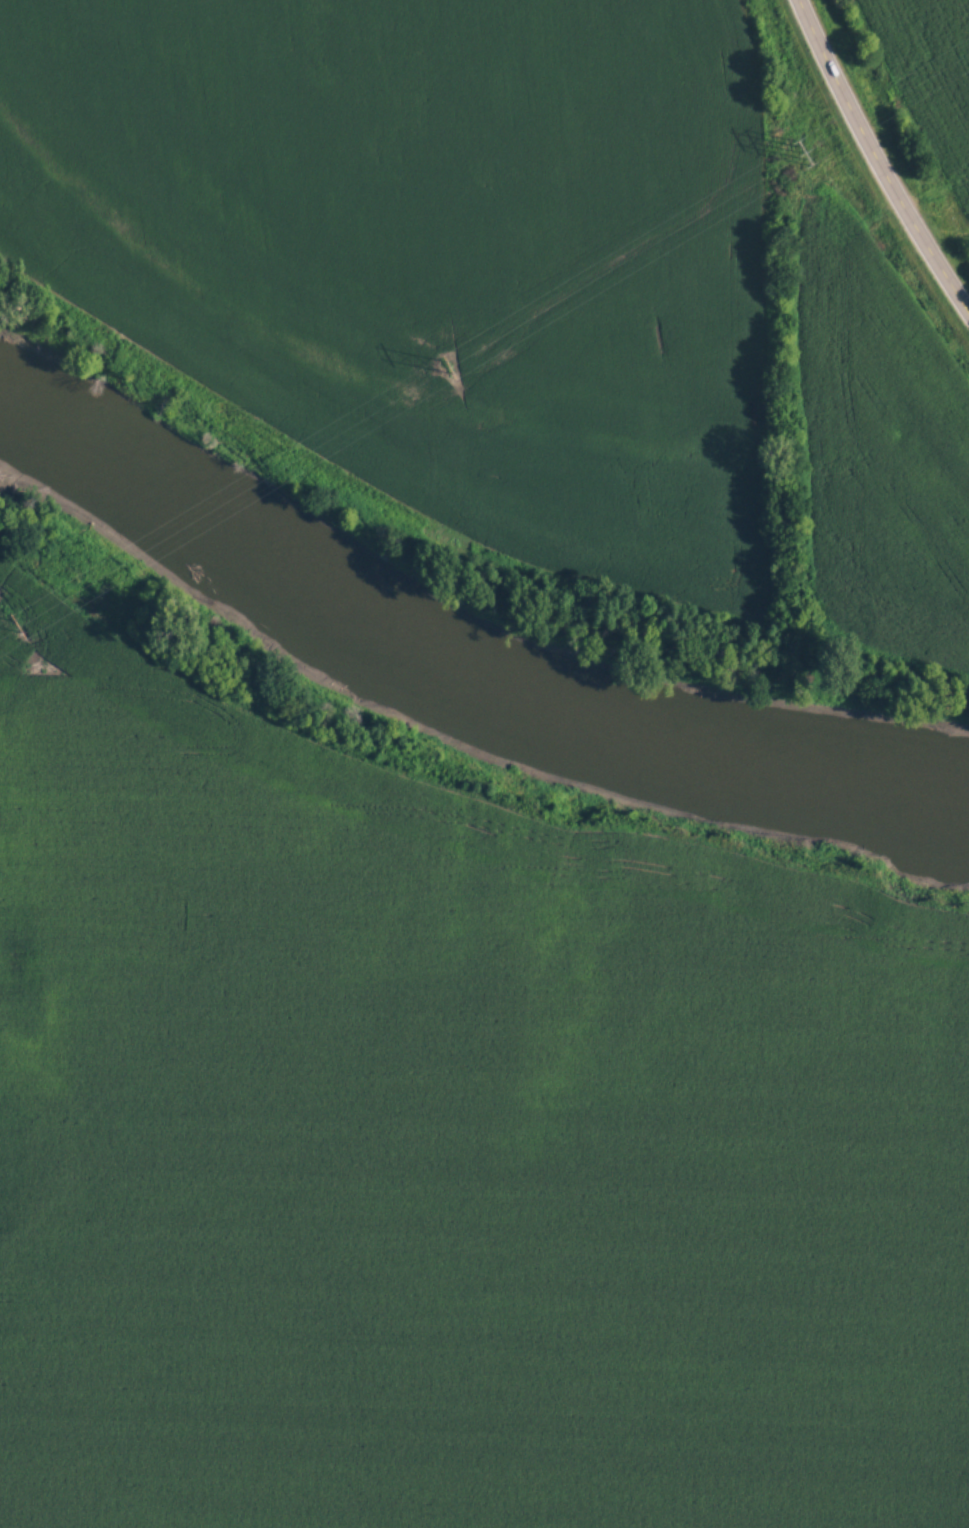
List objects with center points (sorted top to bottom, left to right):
power tower: (804, 147)
road: (875, 157)
power tower: (438, 363)
power tower: (77, 584)
river: (449, 684)

